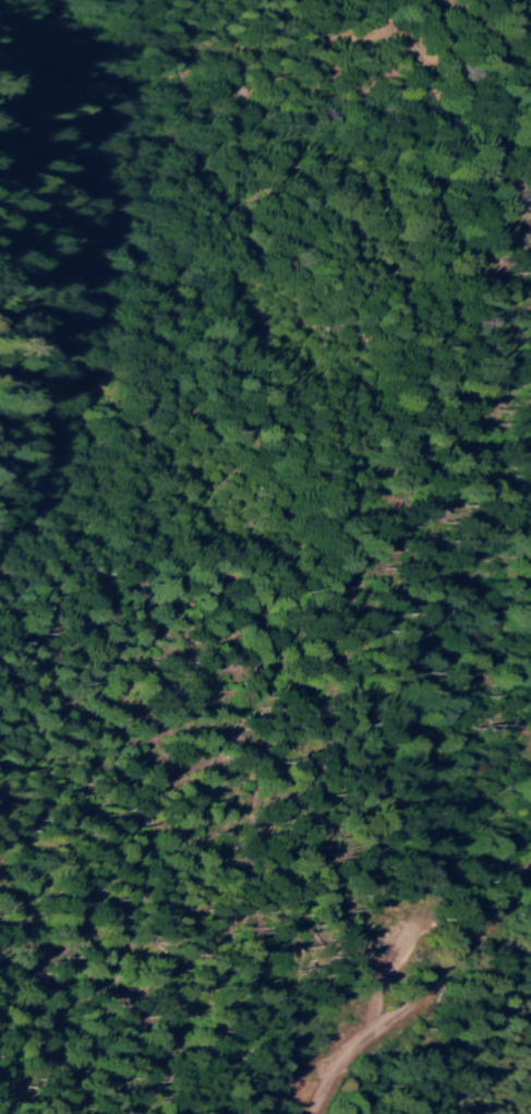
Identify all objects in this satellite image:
road: (417, 996)

